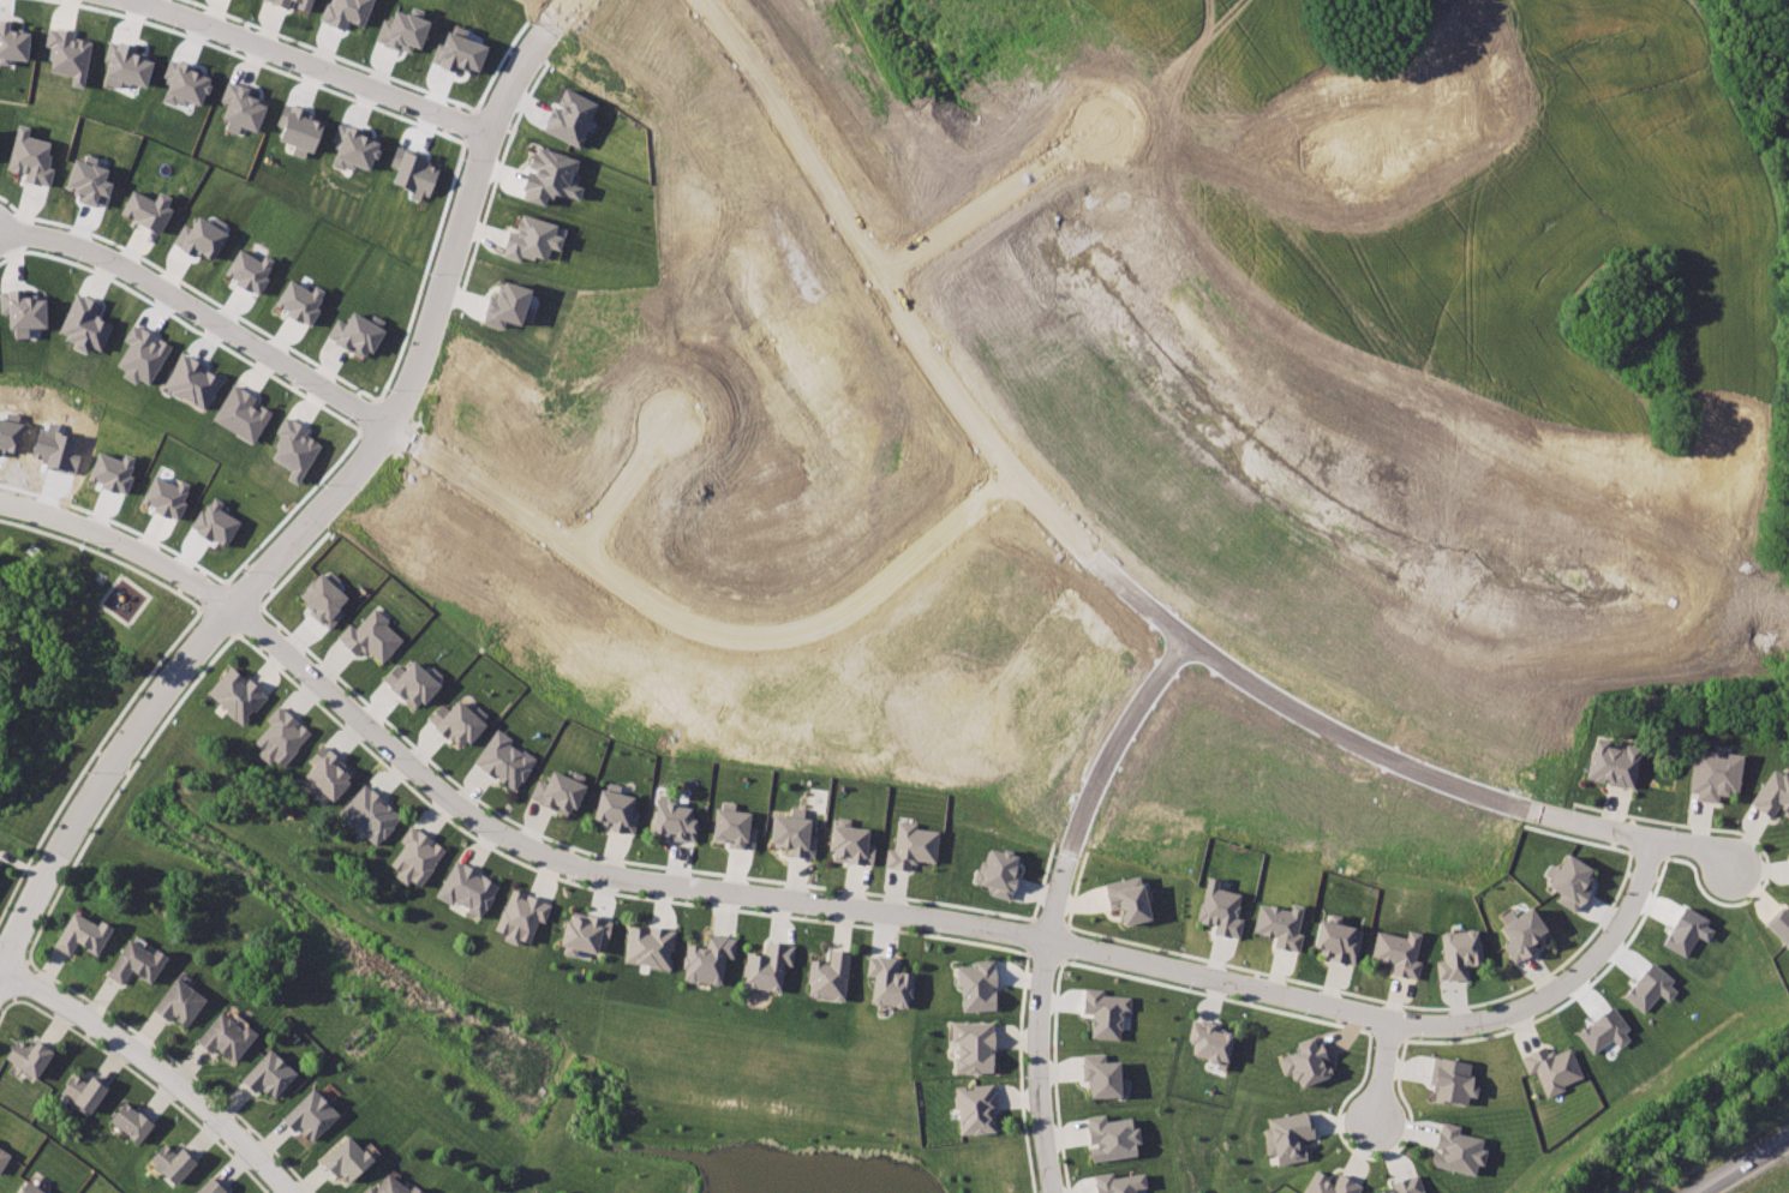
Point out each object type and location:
building: (280, 2)
building: (303, 4)
building: (345, 12)
road: (563, 18)
building: (402, 31)
building: (11, 44)
building: (457, 53)
building: (66, 54)
road: (309, 58)
building: (125, 64)
building: (184, 82)
building: (240, 108)
building: (569, 116)
building: (297, 127)
building: (354, 148)
building: (29, 157)
building: (413, 173)
building: (550, 176)
building: (89, 181)
building: (144, 205)
road: (994, 209)
building: (199, 238)
building: (532, 238)
building: (247, 270)
building: (298, 301)
building: (508, 305)
building: (22, 311)
road: (199, 313)
building: (83, 323)
building: (353, 334)
building: (140, 347)
building: (191, 382)
building: (239, 413)
building: (292, 446)
building: (110, 472)
road: (1025, 492)
road: (616, 493)
building: (164, 496)
road: (311, 520)
road: (115, 522)
building: (213, 522)
road: (103, 553)
road: (240, 593)
road: (211, 594)
building: (322, 605)
road: (246, 619)
road: (216, 621)
road: (695, 635)
building: (365, 641)
building: (411, 683)
building: (241, 701)
building: (455, 720)
building: (283, 735)
road: (1120, 744)
building: (505, 761)
building: (1625, 767)
building: (331, 772)
building: (1723, 781)
building: (558, 797)
building: (1777, 799)
building: (372, 814)
building: (621, 816)
building: (677, 821)
building: (737, 832)
road: (1632, 832)
building: (795, 837)
building: (851, 849)
building: (914, 849)
building: (421, 861)
building: (1012, 870)
building: (1575, 885)
road: (694, 887)
building: (475, 894)
building: (1129, 900)
building: (1221, 904)
building: (527, 922)
building: (1280, 922)
building: (1687, 930)
building: (1527, 933)
building: (85, 934)
building: (1782, 934)
building: (590, 939)
building: (1341, 942)
building: (653, 951)
road: (1598, 951)
building: (1400, 955)
building: (1466, 958)
building: (716, 960)
building: (137, 963)
building: (768, 965)
building: (831, 975)
building: (979, 981)
building: (891, 984)
building: (1650, 988)
building: (183, 1001)
building: (1106, 1011)
road: (1037, 1019)
building: (1603, 1031)
building: (228, 1038)
building: (1210, 1038)
building: (975, 1047)
building: (31, 1056)
building: (1305, 1060)
building: (1550, 1066)
road: (155, 1067)
road: (1381, 1071)
building: (271, 1074)
building: (1100, 1077)
building: (1460, 1083)
building: (86, 1091)
building: (980, 1110)
building: (312, 1115)
building: (134, 1121)
building: (1114, 1138)
building: (1293, 1139)
building: (1459, 1147)
building: (349, 1159)
building: (5, 1161)
building: (175, 1163)
road: (1743, 1167)
building: (1121, 1182)
building: (1334, 1185)
building: (35, 1187)
building: (213, 1187)
building: (395, 1187)
building: (1407, 1188)

